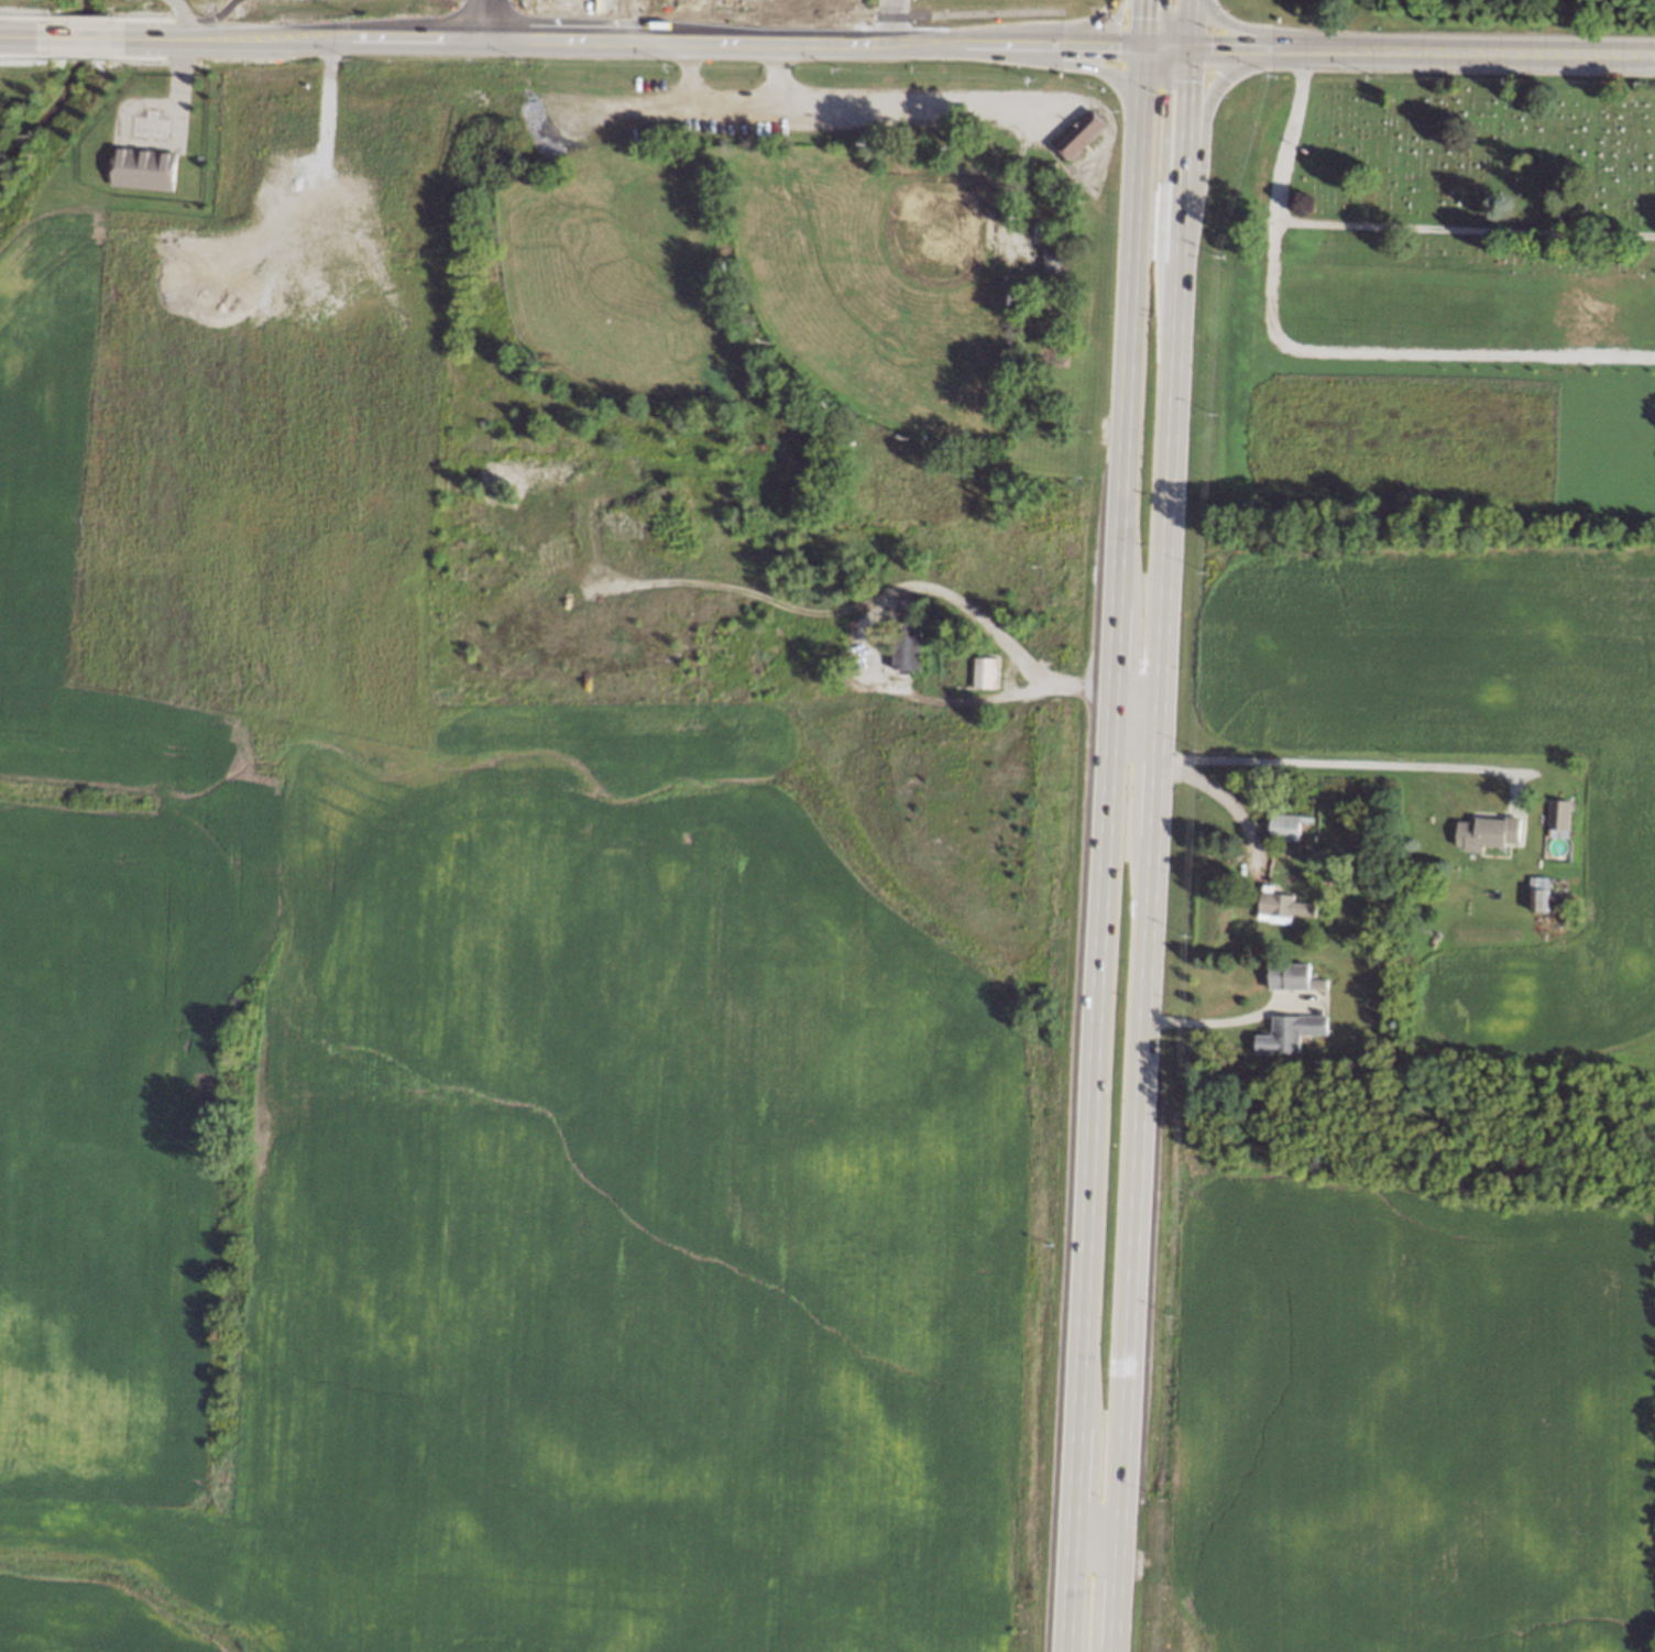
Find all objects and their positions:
park: (1456, 18)
road: (179, 19)
road: (483, 19)
road: (890, 21)
road: (1139, 22)
road: (1186, 22)
road: (1103, 23)
road: (1166, 26)
road: (1237, 26)
road: (23, 35)
road: (78, 37)
road: (498, 39)
road: (1071, 42)
road: (929, 43)
road: (1015, 43)
road: (1110, 43)
traffic signals: (1138, 44)
road: (1162, 44)
traffic signals: (1186, 45)
road: (1231, 45)
road: (1291, 46)
road: (1316, 47)
road: (1341, 47)
road: (1505, 51)
road: (1095, 66)
road: (1132, 68)
road: (780, 69)
road: (1229, 74)
road: (841, 97)
building: (1079, 141)
road: (1161, 144)
building: (147, 172)
park: (1436, 179)
road: (1368, 226)
building: (1029, 240)
building: (1053, 264)
road: (1401, 354)
road: (1012, 645)
building: (903, 652)
building: (986, 670)
road: (1325, 763)
road: (1223, 798)
building: (1558, 819)
building: (1285, 825)
building: (1488, 833)
road: (1152, 849)
road: (1105, 873)
building: (1538, 895)
building: (1278, 912)
building: (1289, 973)
road: (1209, 1020)
building: (1290, 1028)

